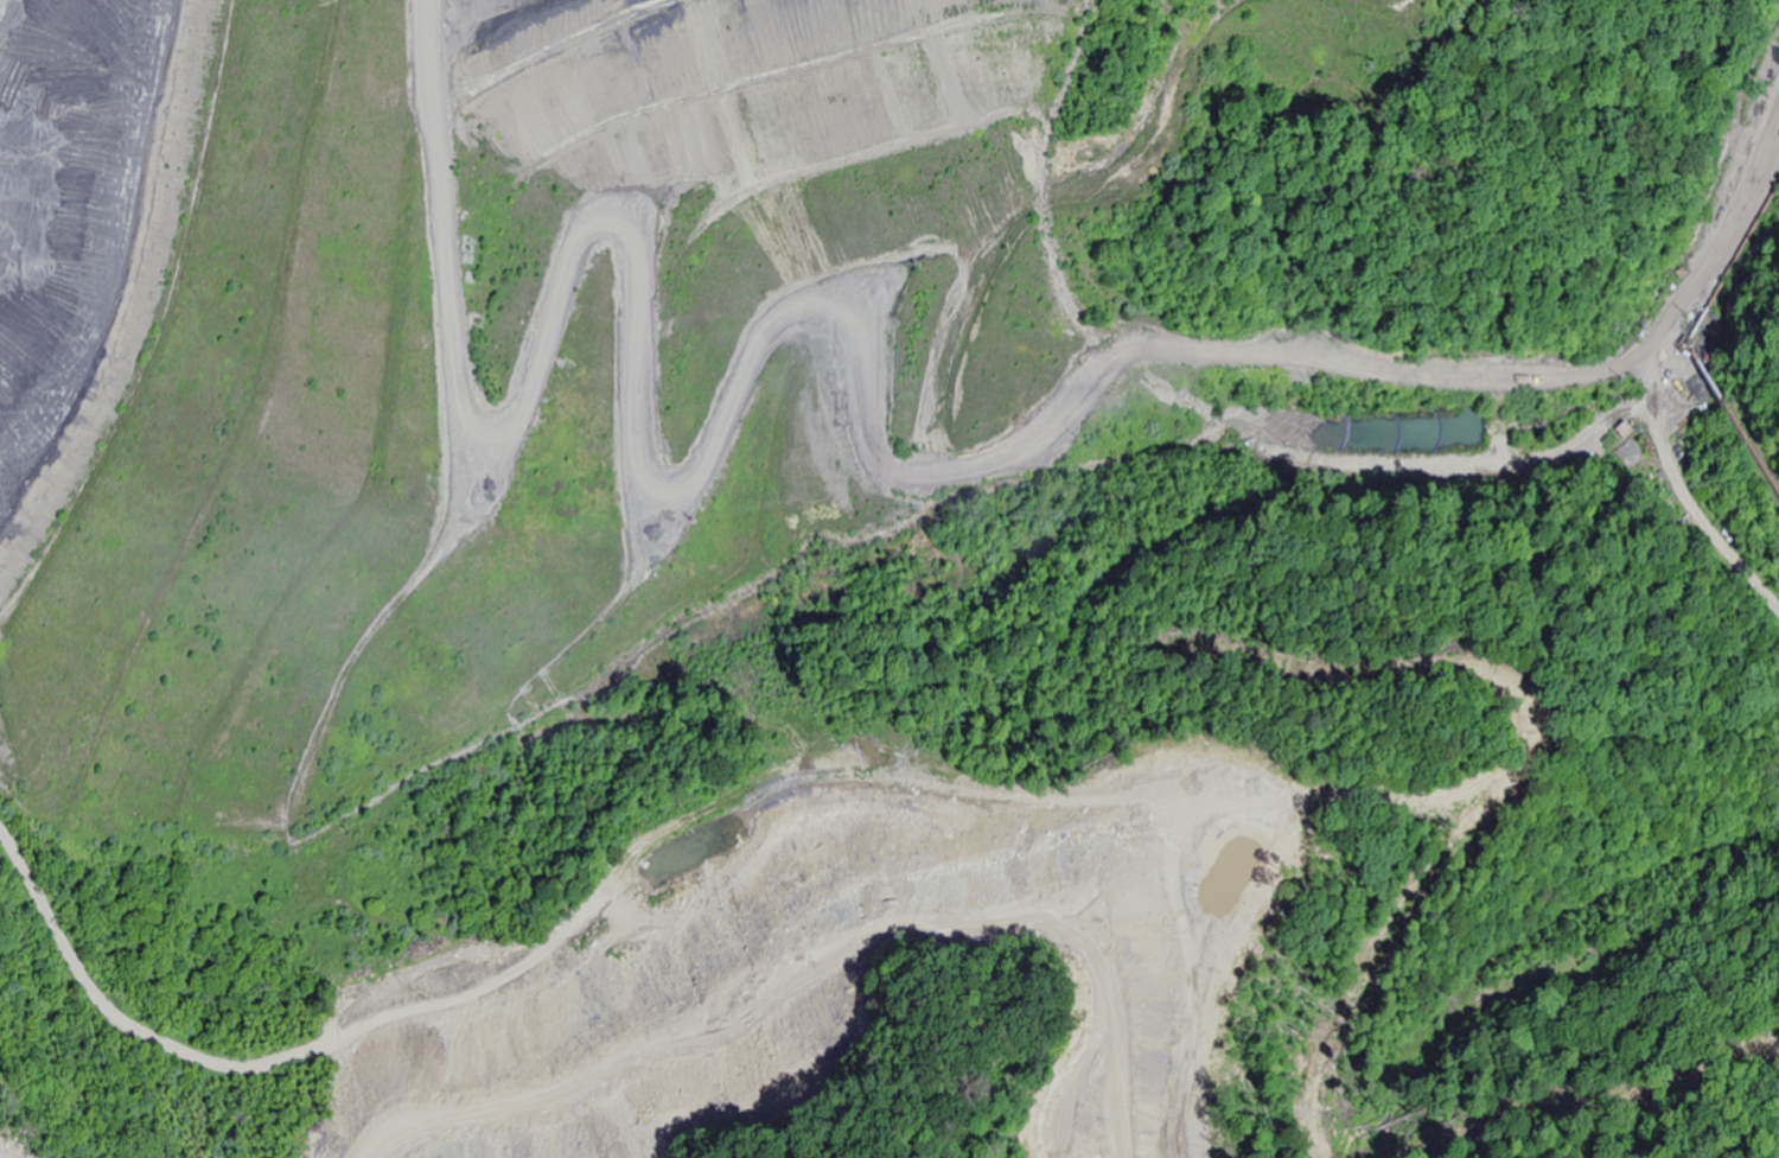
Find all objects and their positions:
building: (1630, 448)
quarry: (854, 533)

